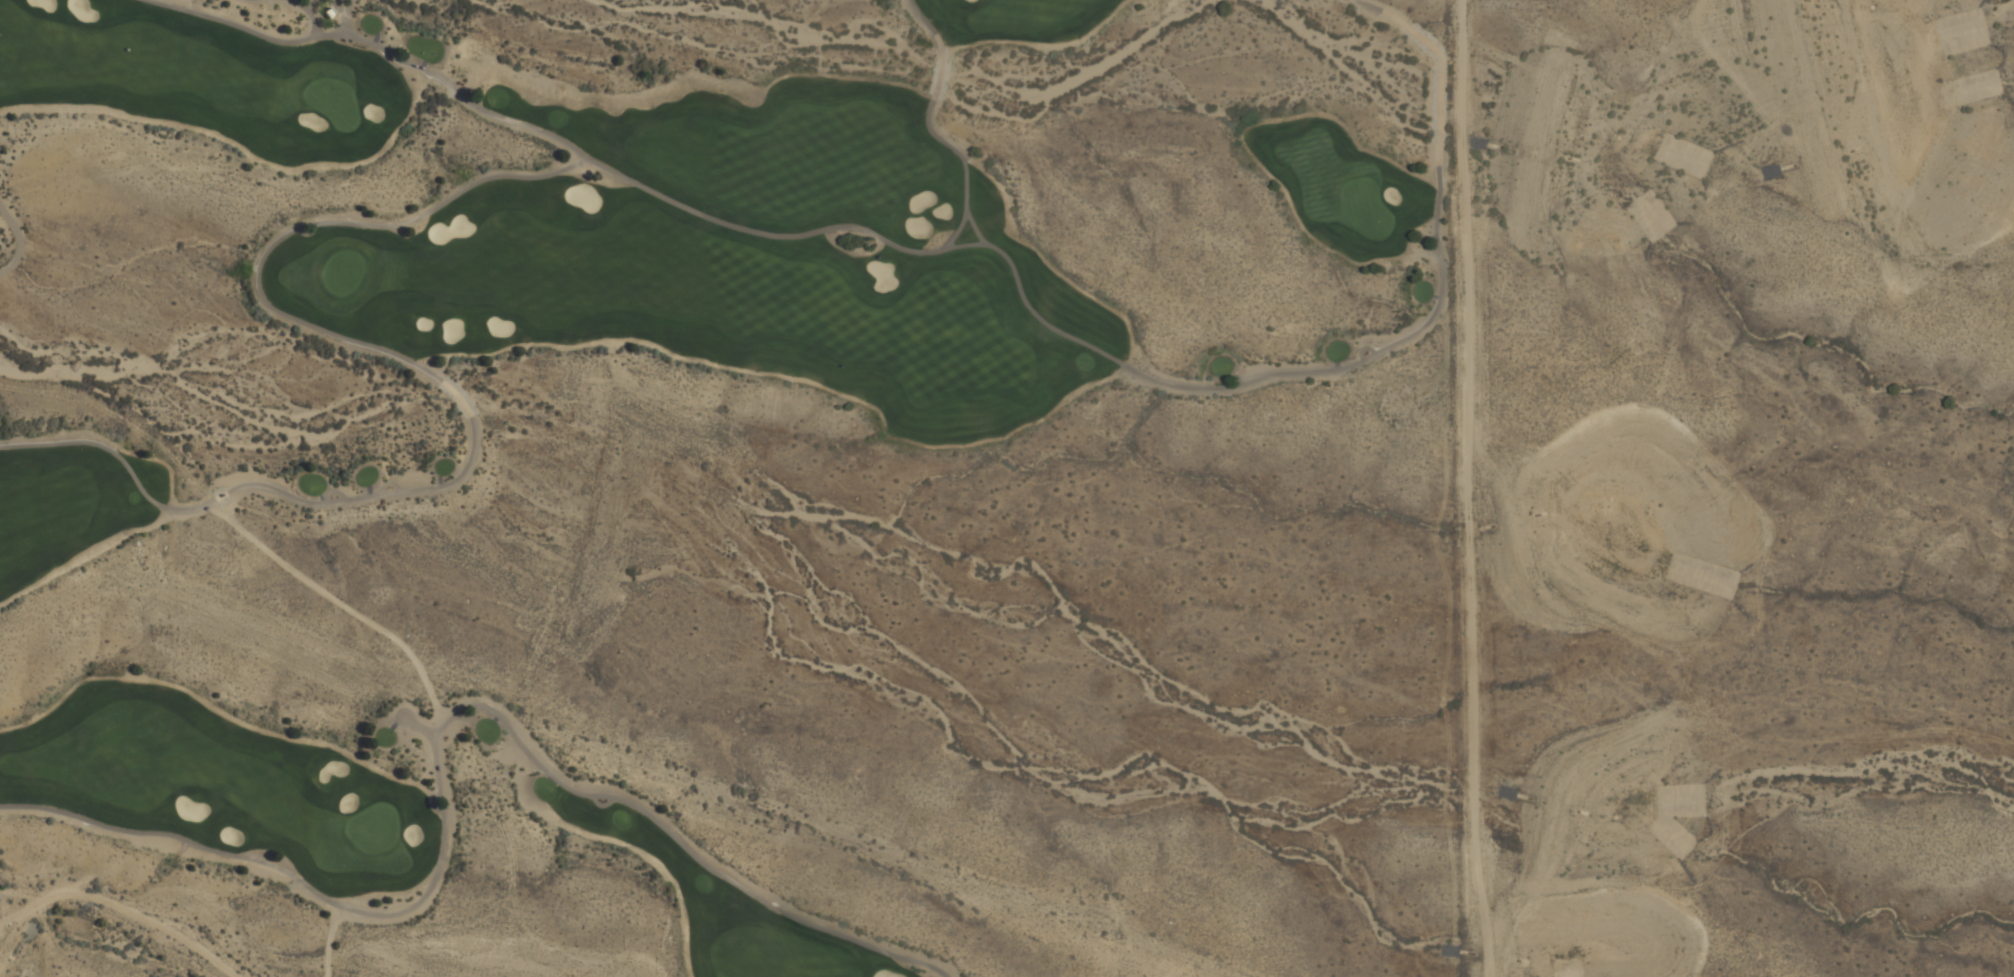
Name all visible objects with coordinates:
road: (308, 13)
road: (343, 16)
road: (500, 112)
road: (930, 123)
road: (972, 225)
road: (889, 239)
road: (1341, 368)
park: (609, 382)
road: (431, 732)
road: (328, 938)

